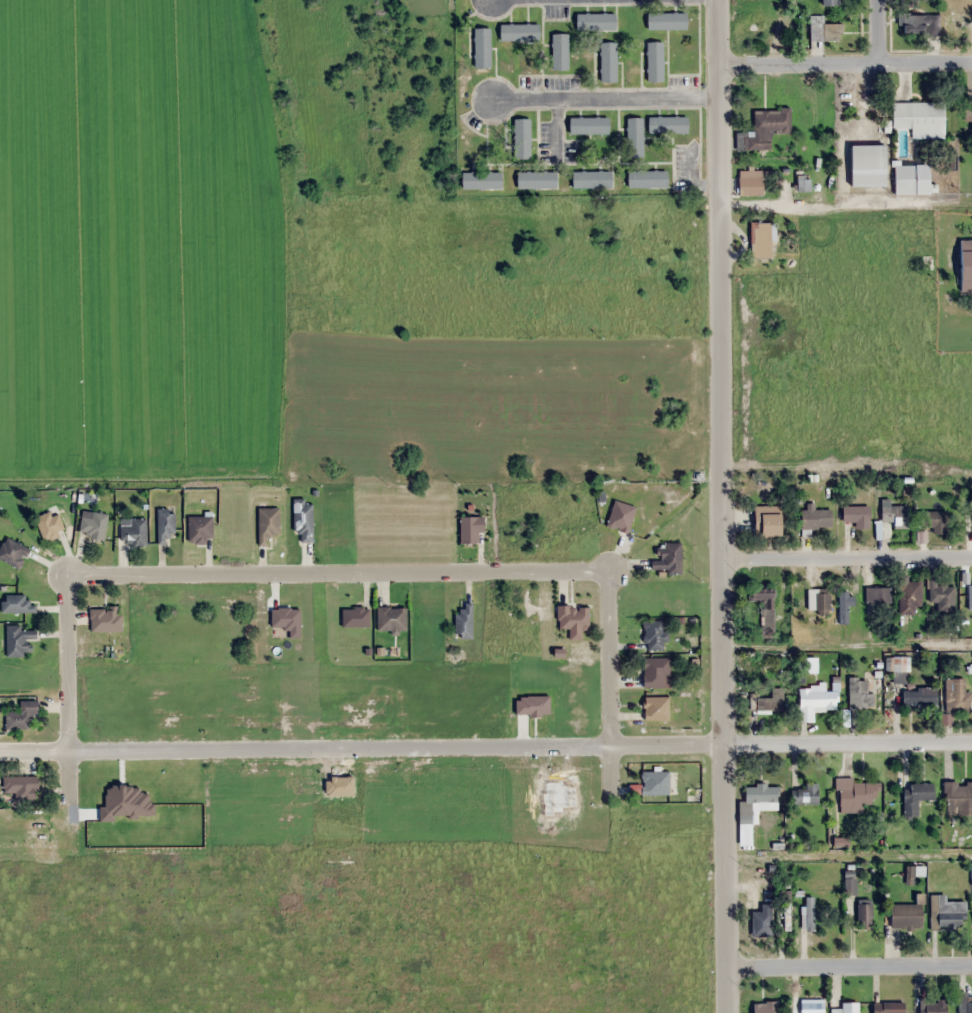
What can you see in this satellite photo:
building: (829, 2)
building: (760, 15)
building: (956, 19)
building: (667, 21)
building: (596, 22)
building: (918, 23)
building: (822, 29)
building: (520, 32)
road: (878, 32)
building: (482, 47)
building: (560, 51)
building: (655, 61)
building: (609, 62)
road: (844, 64)
building: (918, 118)
building: (968, 121)
building: (668, 124)
building: (589, 126)
building: (762, 128)
building: (635, 136)
building: (522, 138)
building: (865, 164)
building: (909, 178)
building: (592, 179)
building: (647, 179)
building: (482, 180)
building: (537, 180)
building: (748, 182)
building: (800, 182)
building: (758, 239)
building: (964, 259)
road: (719, 506)
building: (970, 507)
building: (893, 514)
building: (815, 515)
building: (855, 515)
building: (619, 516)
building: (303, 520)
building: (765, 520)
building: (933, 520)
building: (268, 524)
building: (93, 525)
building: (165, 525)
building: (49, 526)
building: (200, 528)
building: (471, 529)
building: (134, 532)
building: (13, 553)
building: (667, 559)
road: (846, 559)
building: (876, 595)
building: (967, 595)
building: (940, 596)
building: (909, 597)
building: (759, 598)
building: (816, 601)
building: (17, 605)
building: (356, 617)
building: (571, 617)
building: (105, 619)
building: (391, 619)
building: (464, 622)
building: (652, 635)
building: (18, 641)
building: (898, 664)
building: (653, 672)
building: (859, 692)
building: (918, 696)
building: (955, 696)
building: (816, 699)
building: (769, 702)
building: (654, 707)
building: (22, 717)
road: (846, 743)
building: (652, 782)
building: (22, 787)
building: (759, 794)
building: (804, 794)
building: (854, 795)
building: (914, 796)
building: (957, 797)
building: (946, 912)
building: (807, 913)
building: (862, 913)
building: (904, 916)
building: (759, 919)
road: (847, 967)
building: (963, 1003)
building: (807, 1005)
building: (932, 1006)
building: (763, 1007)
building: (886, 1007)
building: (845, 1008)

